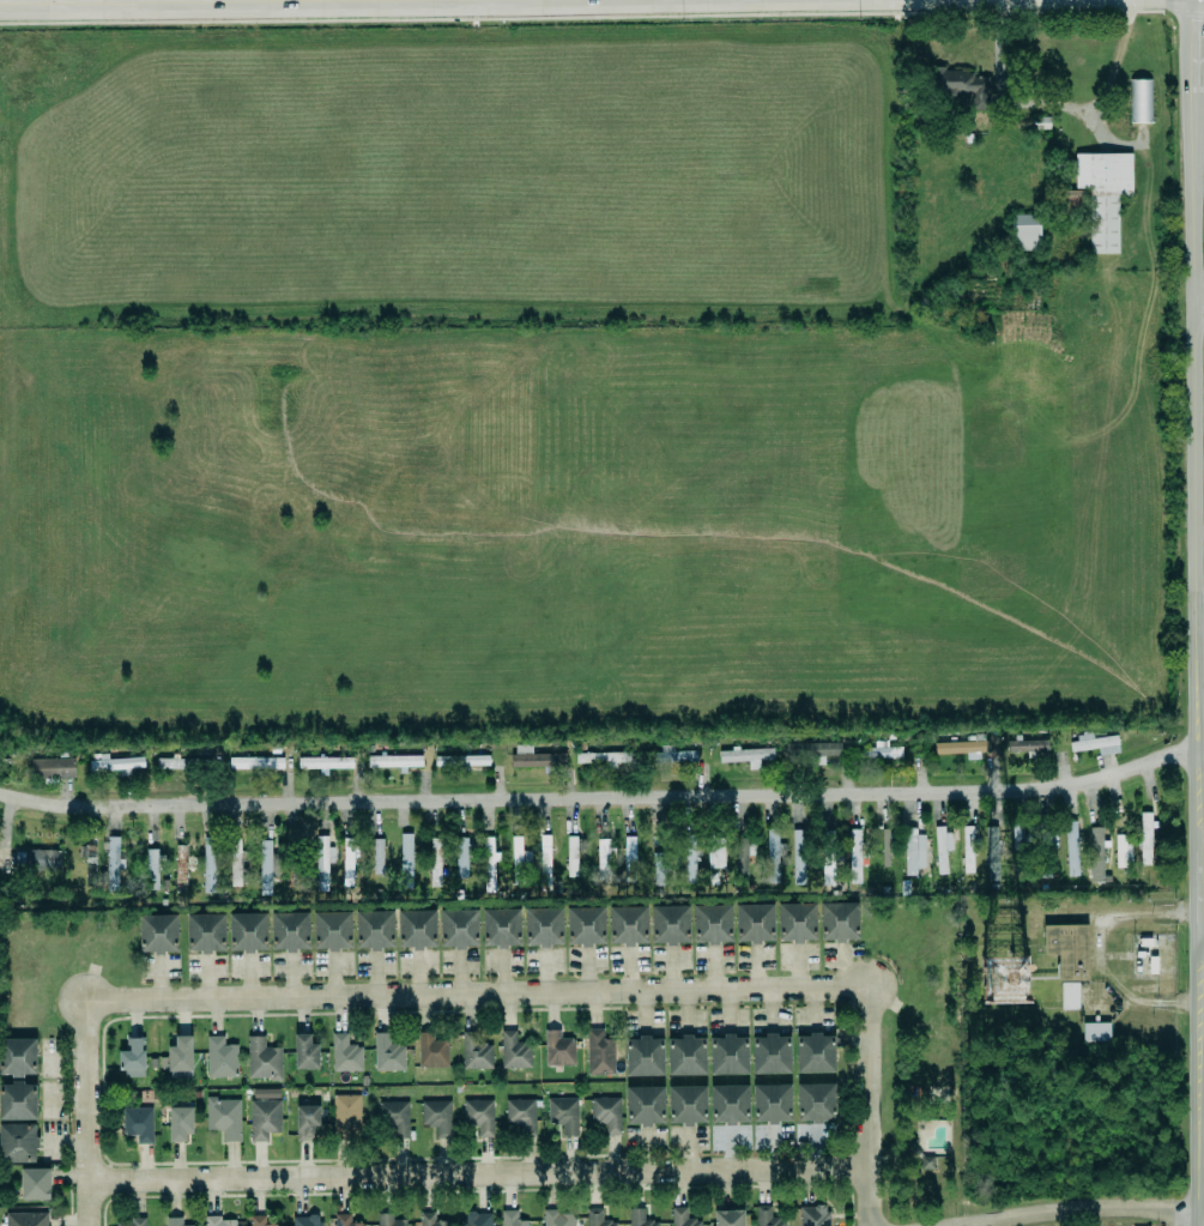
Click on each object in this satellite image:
road: (285, 2)
building: (964, 86)
building: (1141, 101)
building: (1103, 194)
building: (1025, 231)
road: (1200, 302)
road: (1197, 612)
building: (1095, 743)
building: (1027, 744)
building: (963, 748)
building: (812, 749)
building: (882, 751)
building: (673, 755)
building: (745, 755)
building: (536, 757)
building: (604, 757)
building: (395, 761)
building: (461, 761)
building: (180, 763)
building: (255, 763)
building: (325, 763)
building: (117, 765)
building: (52, 768)
road: (600, 802)
building: (1144, 835)
building: (1018, 840)
building: (887, 845)
building: (940, 847)
building: (1046, 847)
building: (1070, 847)
building: (714, 850)
building: (912, 850)
building: (968, 850)
building: (1120, 850)
building: (1095, 852)
building: (772, 853)
building: (854, 853)
building: (992, 853)
building: (603, 854)
building: (377, 856)
building: (571, 856)
building: (461, 857)
building: (628, 857)
building: (743, 857)
building: (798, 857)
building: (690, 858)
building: (827, 858)
building: (37, 860)
building: (236, 860)
building: (406, 860)
building: (518, 860)
building: (346, 862)
building: (436, 862)
building: (527, 862)
building: (89, 863)
building: (323, 863)
building: (488, 863)
building: (113, 864)
building: (208, 864)
building: (267, 866)
building: (153, 868)
building: (180, 868)
building: (658, 869)
building: (752, 920)
building: (795, 920)
building: (710, 922)
building: (840, 922)
building: (668, 923)
building: (625, 924)
building: (543, 926)
building: (585, 926)
building: (501, 928)
building: (331, 929)
building: (417, 929)
building: (459, 929)
building: (374, 930)
building: (204, 931)
building: (290, 931)
building: (248, 932)
building: (158, 934)
road: (1202, 936)
building: (1067, 949)
road: (1099, 949)
road: (472, 995)
building: (1070, 996)
building: (1096, 1032)
building: (558, 1049)
building: (432, 1050)
building: (304, 1051)
building: (473, 1051)
building: (514, 1051)
building: (813, 1051)
building: (599, 1052)
building: (769, 1052)
building: (345, 1053)
building: (388, 1053)
building: (684, 1053)
building: (181, 1055)
building: (730, 1055)
building: (645, 1056)
building: (18, 1057)
building: (222, 1057)
building: (133, 1058)
building: (261, 1058)
building: (18, 1101)
building: (685, 1103)
building: (772, 1103)
building: (816, 1103)
building: (730, 1104)
building: (645, 1105)
building: (345, 1111)
building: (562, 1112)
building: (606, 1113)
building: (521, 1115)
building: (393, 1116)
building: (479, 1116)
building: (224, 1117)
building: (437, 1117)
building: (262, 1118)
building: (307, 1121)
building: (181, 1123)
building: (138, 1124)
building: (18, 1143)
road: (479, 1173)
building: (35, 1184)
road: (870, 1196)
road: (90, 1203)
road: (1079, 1207)
building: (812, 1215)
building: (727, 1216)
building: (766, 1216)
building: (558, 1218)
building: (639, 1218)
building: (682, 1218)
building: (26, 1219)
building: (478, 1219)
building: (512, 1219)
building: (598, 1219)
building: (305, 1220)
building: (345, 1220)
building: (389, 1220)
building: (430, 1220)
building: (131, 1221)
building: (174, 1221)
building: (218, 1221)
building: (259, 1221)

